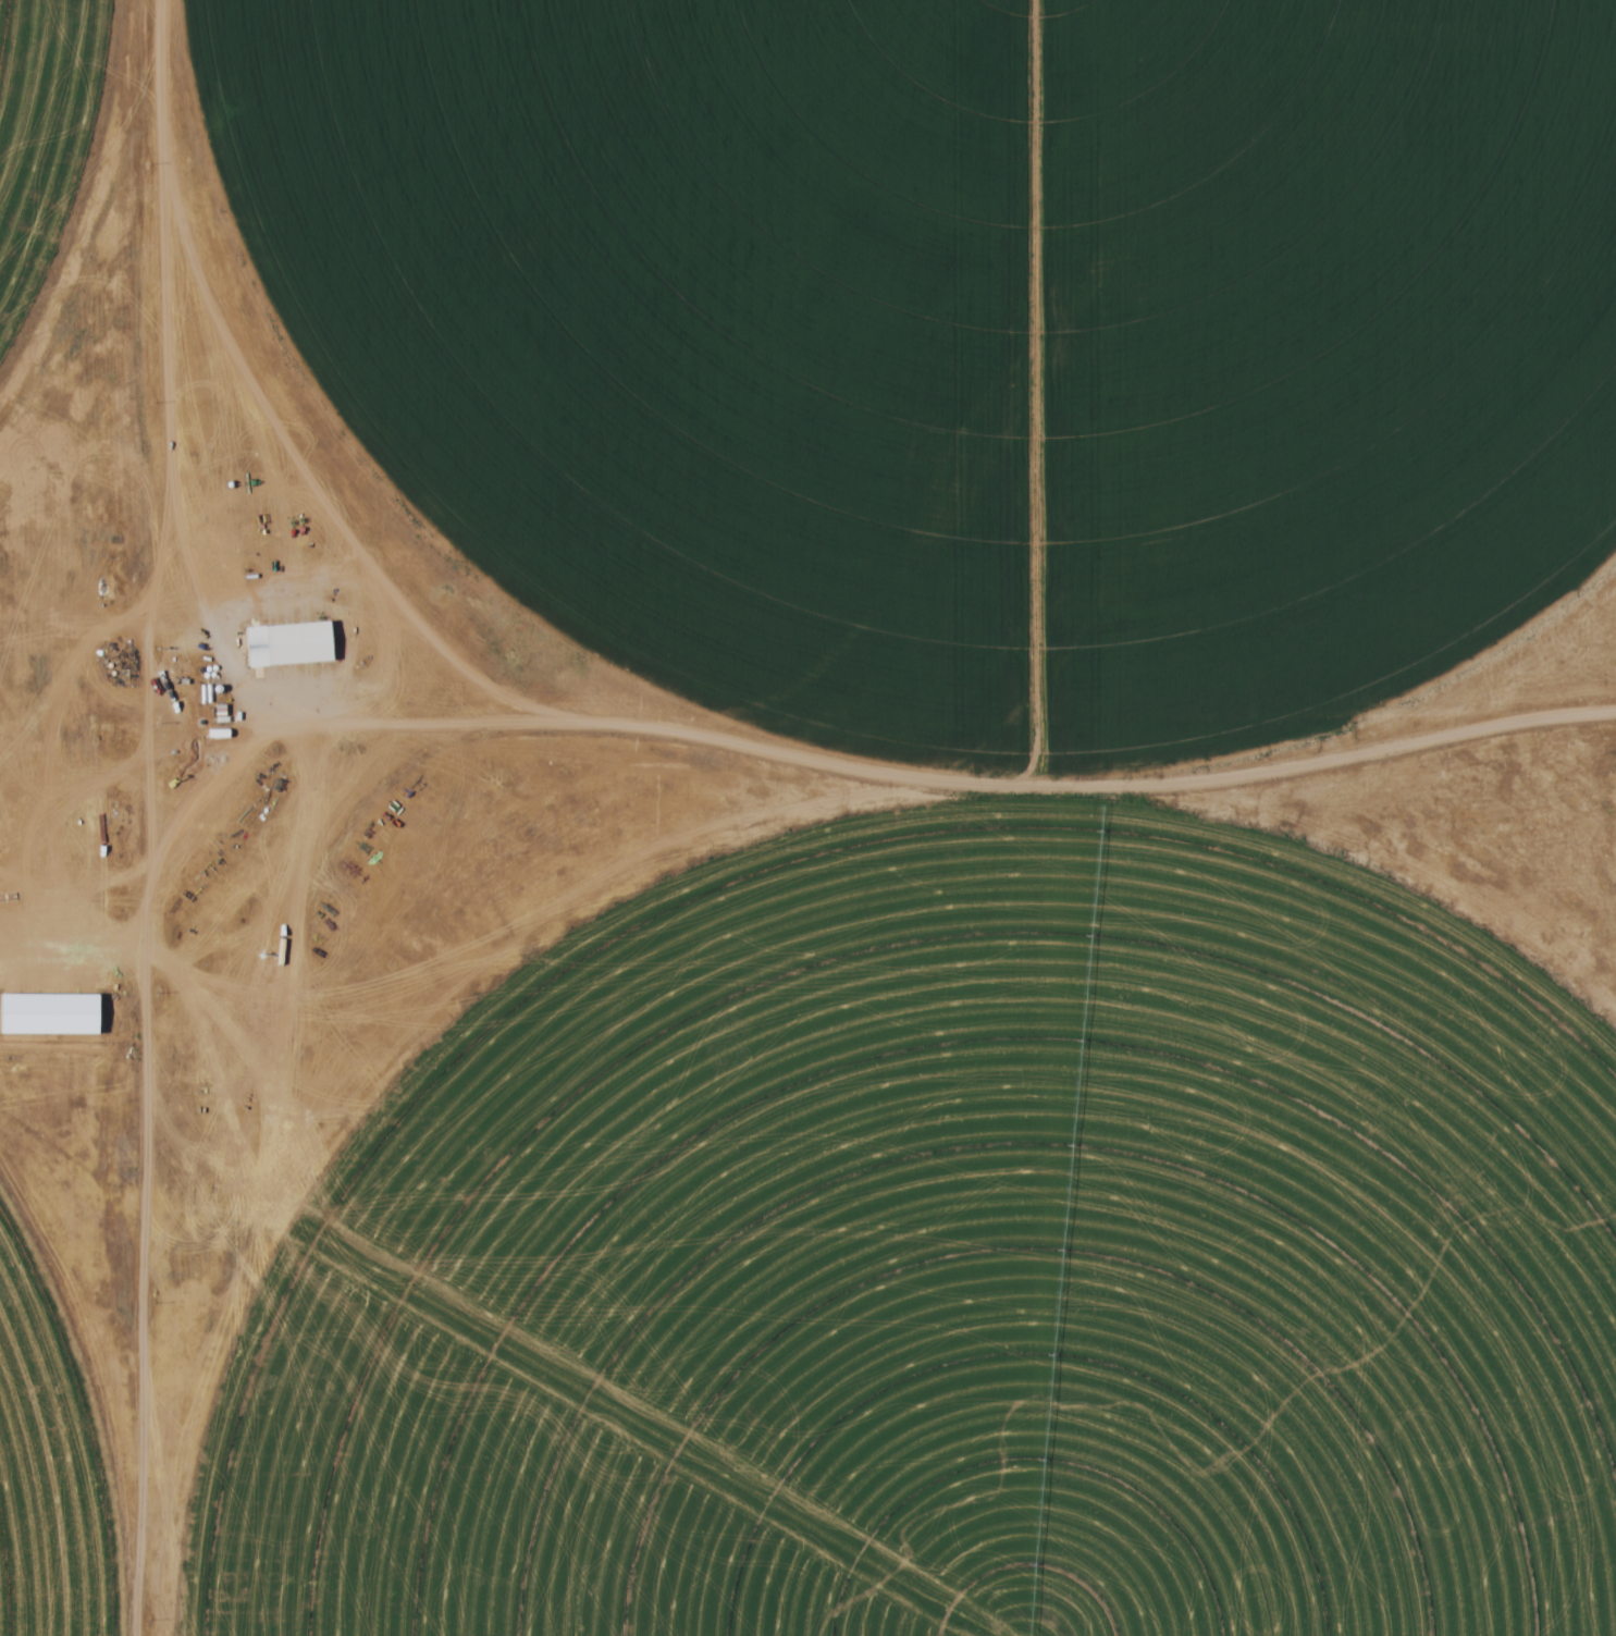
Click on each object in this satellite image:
crop: (48, 144)
crop: (962, 336)
road: (879, 782)
road: (141, 816)
crop: (957, 1280)
crop: (49, 1476)

